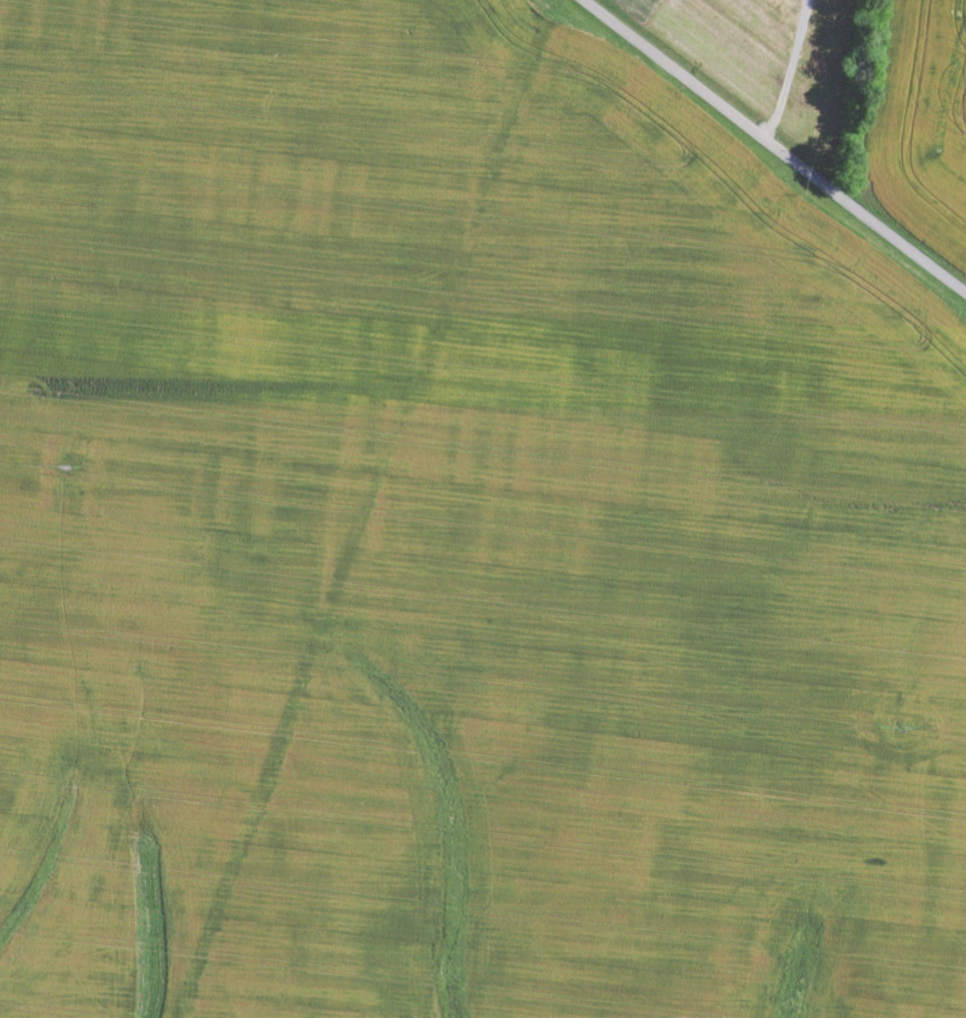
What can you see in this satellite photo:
road: (773, 147)

